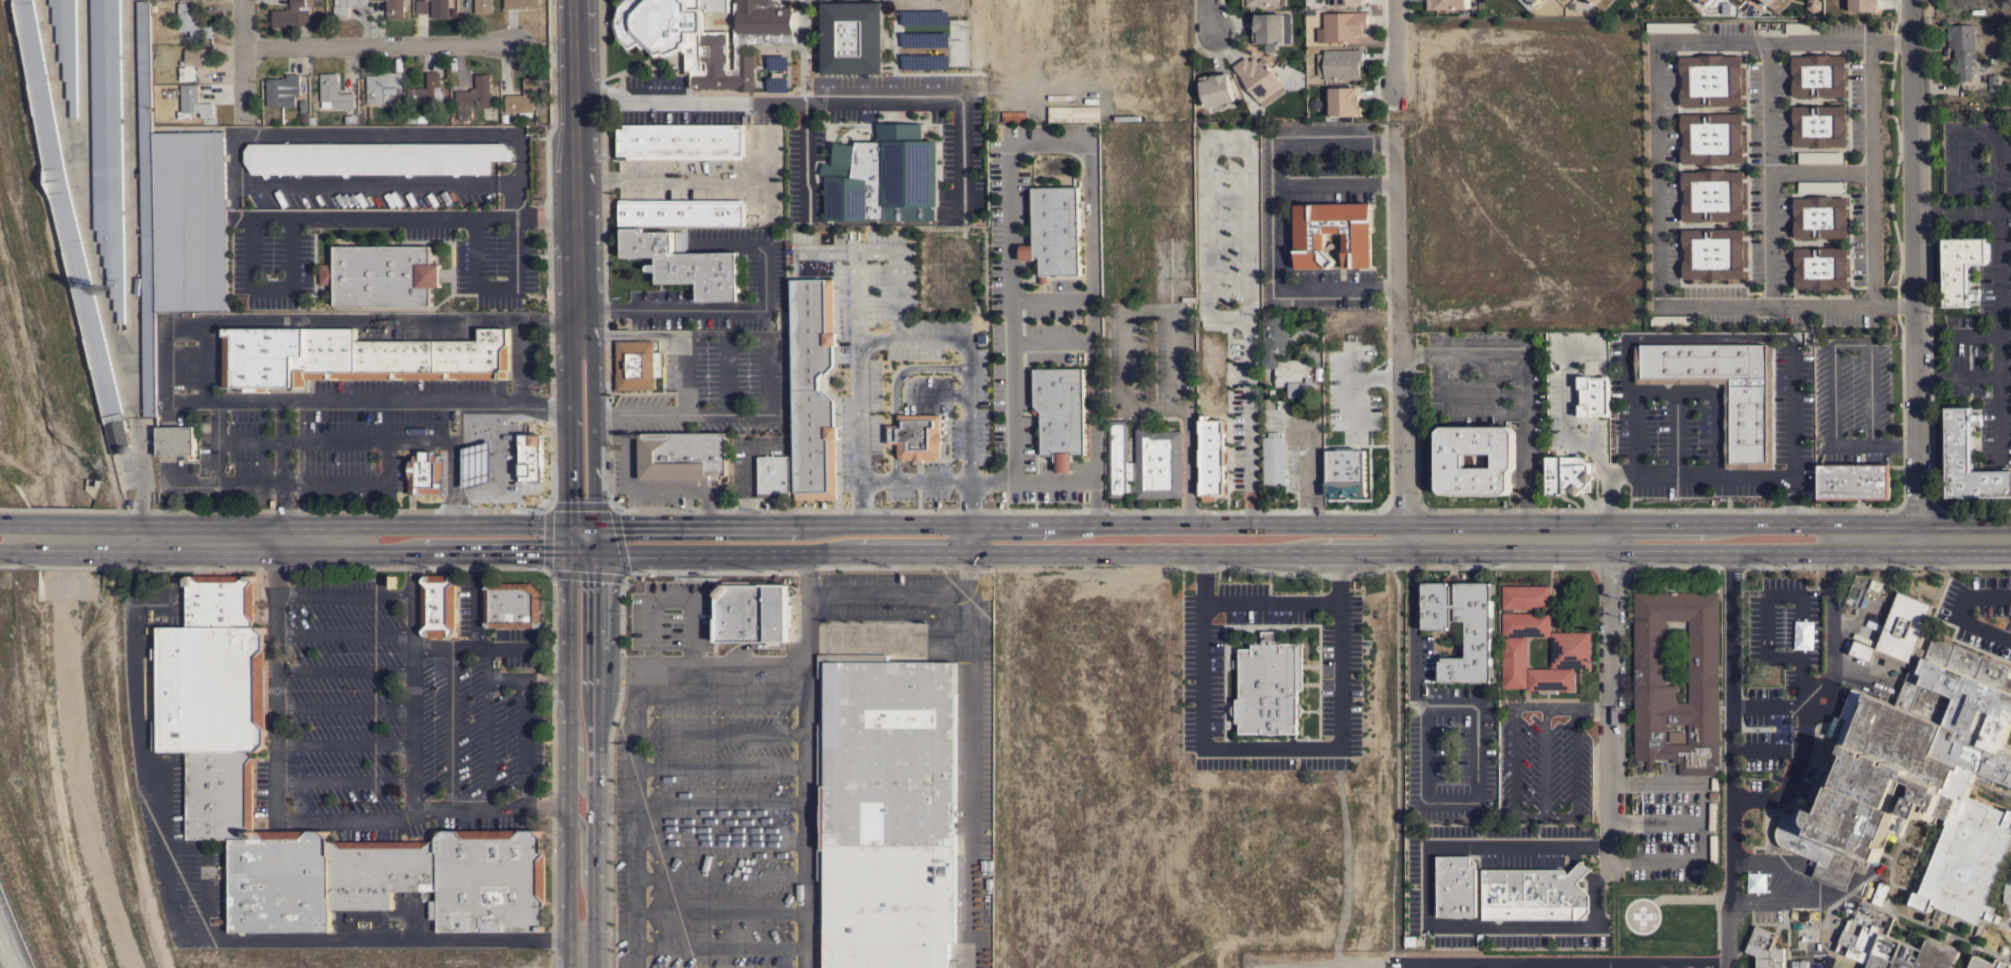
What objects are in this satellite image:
building: (1595, 1)
building: (1706, 1)
building: (1264, 2)
building: (1346, 2)
building: (519, 3)
building: (1529, 3)
building: (1448, 4)
building: (1776, 4)
building: (1813, 5)
building: (1864, 5)
building: (483, 6)
building: (341, 8)
building: (439, 8)
road: (1395, 8)
building: (395, 9)
building: (292, 14)
road: (1202, 14)
building: (192, 21)
building: (1343, 26)
building: (1272, 28)
building: (704, 35)
building: (852, 37)
building: (67, 45)
road: (377, 47)
building: (1962, 49)
road: (1394, 58)
road: (244, 59)
building: (194, 61)
building: (1339, 64)
building: (1817, 76)
building: (1259, 79)
building: (1710, 82)
building: (1993, 82)
building: (382, 86)
building: (1216, 89)
building: (282, 90)
building: (424, 91)
building: (334, 92)
building: (474, 97)
building: (523, 98)
road: (767, 99)
road: (83, 101)
building: (1344, 101)
building: (193, 103)
building: (1072, 112)
building: (1012, 116)
building: (1819, 127)
road: (245, 133)
road: (1314, 136)
building: (1711, 139)
building: (680, 141)
building: (108, 142)
road: (1066, 143)
road: (962, 157)
building: (374, 158)
road: (805, 158)
road: (572, 167)
road: (1871, 170)
road: (1820, 171)
road: (1656, 172)
road: (1769, 172)
building: (884, 176)
road: (667, 178)
road: (1971, 182)
building: (1711, 197)
road: (1248, 200)
road: (84, 207)
road: (129, 207)
building: (147, 211)
road: (1955, 211)
building: (682, 213)
road: (318, 216)
building: (1819, 219)
building: (189, 220)
building: (69, 225)
building: (1054, 231)
road: (1996, 233)
road: (1278, 235)
building: (1310, 240)
building: (681, 241)
road: (877, 249)
building: (1712, 257)
parking lot: (491, 262)
building: (686, 264)
parking lot: (273, 266)
building: (1820, 268)
building: (1962, 269)
building: (381, 274)
road: (1916, 274)
road: (493, 287)
road: (1051, 298)
road: (735, 309)
road: (673, 335)
road: (1708, 335)
road: (1052, 339)
road: (890, 340)
road: (1401, 342)
road: (203, 355)
building: (1269, 356)
building: (261, 357)
building: (400, 357)
road: (521, 357)
road: (163, 362)
building: (636, 365)
road: (1831, 368)
road: (685, 375)
road: (727, 375)
road: (770, 375)
road: (1525, 376)
road: (1376, 377)
road: (1996, 378)
road: (1351, 385)
building: (814, 389)
road: (1712, 391)
road: (1464, 392)
road: (938, 393)
building: (1593, 395)
road: (1568, 406)
building: (1749, 410)
building: (1061, 413)
road: (680, 415)
parking lot: (350, 426)
road: (590, 427)
road: (1791, 431)
road: (1675, 433)
building: (916, 436)
road: (475, 439)
building: (176, 441)
road: (333, 441)
road: (567, 442)
building: (529, 456)
building: (682, 456)
building: (1212, 458)
building: (1119, 459)
building: (1274, 460)
building: (1451, 460)
building: (1969, 460)
road: (215, 461)
road: (282, 461)
road: (385, 461)
gas station: (475, 462)
building: (475, 463)
road: (743, 463)
building: (1158, 463)
road: (497, 467)
road: (142, 468)
road: (1303, 468)
building: (1357, 468)
building: (426, 473)
building: (1568, 474)
road: (1644, 475)
building: (772, 476)
building: (1853, 480)
road: (300, 481)
road: (914, 481)
road: (452, 483)
road: (1610, 487)
road: (646, 492)
road: (969, 502)
road: (13, 522)
road: (65, 522)
road: (1490, 522)
road: (348, 524)
road: (650, 524)
road: (857, 525)
road: (726, 526)
road: (968, 535)
road: (1437, 549)
road: (714, 550)
road: (337, 552)
road: (15, 553)
road: (69, 553)
road: (967, 571)
building: (1300, 575)
road: (1200, 576)
road: (1340, 576)
road: (834, 592)
road: (342, 594)
road: (1789, 594)
building: (1526, 597)
parking lot: (170, 600)
building: (220, 600)
road: (668, 601)
building: (439, 605)
building: (512, 605)
parking lot: (1979, 611)
road: (476, 613)
building: (752, 613)
building: (1526, 624)
road: (1414, 629)
road: (342, 632)
building: (1479, 634)
road: (949, 641)
road: (476, 646)
building: (1571, 649)
building: (1701, 656)
building: (1514, 662)
road: (699, 665)
road: (343, 669)
road: (525, 676)
building: (1550, 679)
parking lot: (1201, 681)
road: (412, 682)
building: (1269, 686)
parking lot: (1775, 686)
building: (211, 688)
road: (719, 695)
road: (1810, 698)
road: (343, 706)
road: (1765, 707)
road: (1561, 708)
road: (1611, 710)
parking lot: (399, 714)
road: (595, 726)
road: (450, 727)
road: (486, 727)
road: (719, 732)
road: (524, 741)
road: (1335, 741)
road: (343, 742)
parking lot: (1446, 744)
road: (1730, 756)
road: (579, 758)
road: (566, 760)
road: (1512, 760)
road: (1546, 761)
parking lot: (1543, 762)
road: (1577, 762)
road: (718, 764)
building: (1917, 767)
parking lot: (804, 773)
road: (343, 779)
road: (968, 780)
building: (220, 795)
parking lot: (172, 797)
road: (615, 799)
road: (1476, 801)
road: (719, 802)
building: (887, 812)
road: (1544, 815)
road: (286, 819)
road: (1657, 821)
parking lot: (1589, 822)
road: (1704, 822)
road: (634, 831)
road: (802, 831)
road: (718, 837)
road: (1591, 847)
road: (582, 849)
road: (1578, 866)
road: (205, 869)
building: (378, 871)
building: (1579, 871)
road: (718, 875)
road: (1603, 875)
building: (490, 880)
building: (280, 881)
building: (1456, 886)
parking lot: (205, 889)
parking lot: (1420, 894)
building: (1532, 894)
parking lot: (2007, 907)
road: (718, 911)
helipad: (1640, 915)
road: (1428, 922)
building: (1804, 937)
road: (216, 940)
building: (1410, 940)
road: (718, 945)
road: (593, 949)
building: (1765, 949)
building: (1895, 951)
road: (7, 952)
parking lot: (1463, 961)
building: (1989, 963)
building: (1799, 964)
road: (1566, 965)
road: (1726, 965)
road: (1407, 966)
road: (1499, 966)
road: (1543, 966)
road: (1588, 966)
road: (1637, 966)
road: (1453, 967)
road: (1831, 967)

